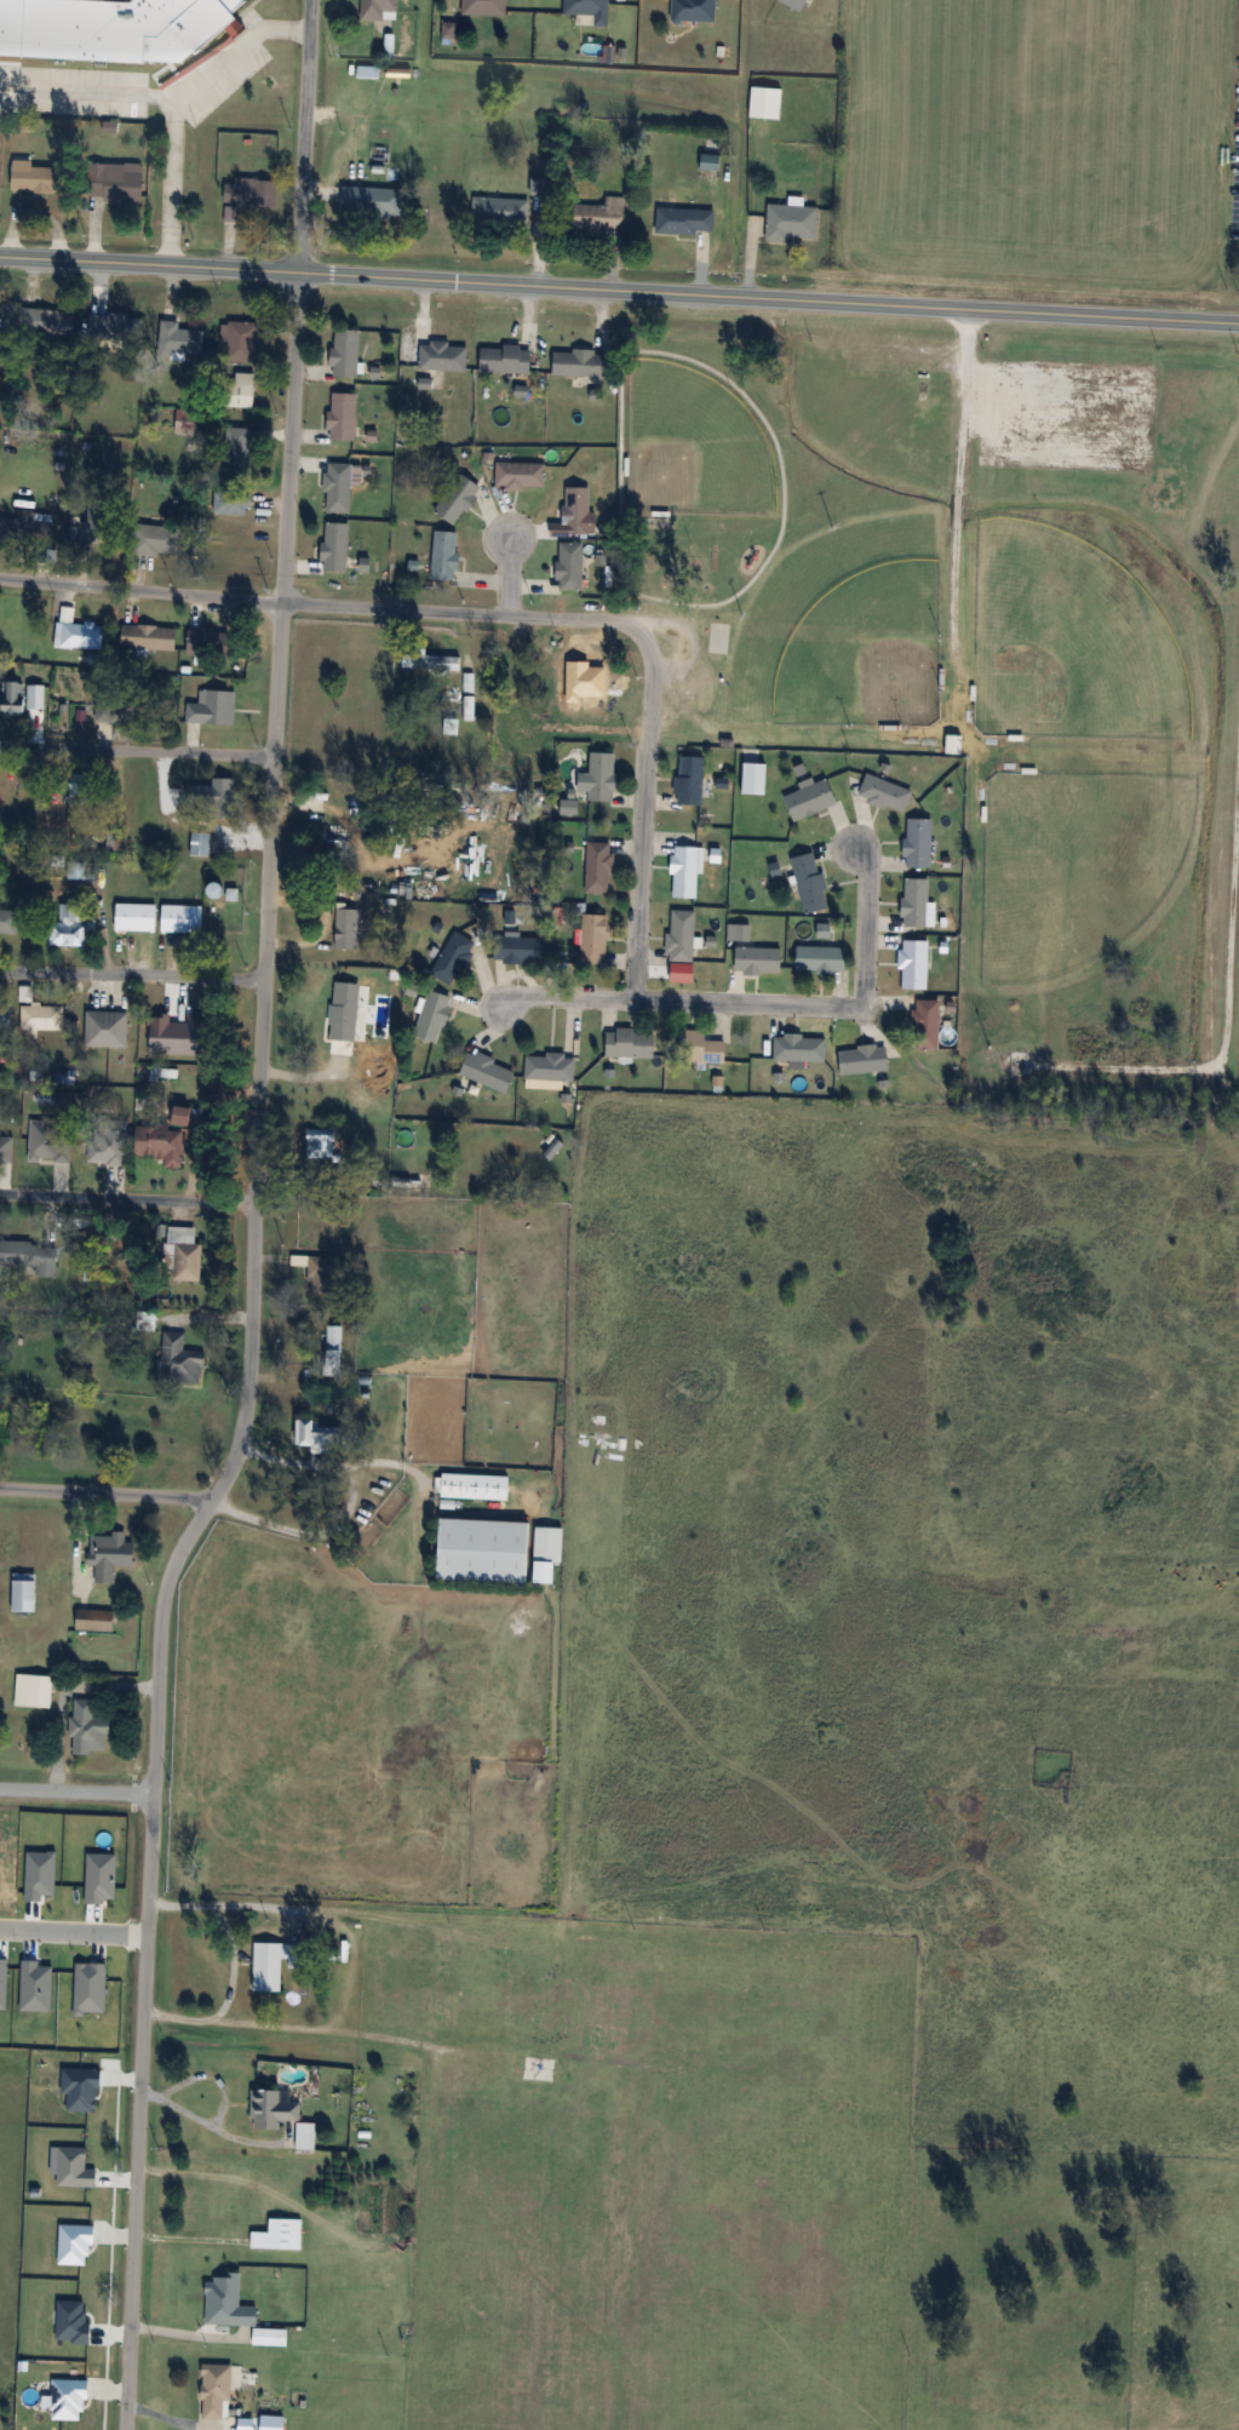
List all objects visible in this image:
building: (796, 4)
building: (486, 7)
building: (380, 10)
building: (590, 10)
building: (694, 10)
building: (124, 27)
road: (165, 97)
road: (305, 136)
building: (0, 177)
building: (35, 177)
building: (119, 182)
road: (171, 182)
building: (252, 191)
building: (372, 200)
building: (500, 211)
building: (601, 216)
building: (684, 219)
building: (793, 222)
road: (149, 265)
road: (635, 290)
road: (1103, 315)
building: (50, 322)
building: (116, 327)
building: (180, 339)
building: (243, 342)
building: (346, 353)
building: (444, 356)
building: (506, 359)
building: (579, 362)
road: (733, 384)
building: (242, 390)
building: (344, 417)
park: (692, 445)
building: (239, 449)
building: (521, 475)
building: (339, 487)
road: (962, 489)
building: (458, 498)
building: (231, 503)
building: (578, 510)
park: (791, 525)
building: (93, 527)
building: (27, 529)
building: (159, 540)
building: (335, 546)
building: (447, 555)
building: (572, 566)
road: (510, 575)
road: (322, 604)
park: (844, 629)
building: (82, 635)
building: (149, 637)
park: (717, 637)
building: (210, 643)
building: (431, 663)
building: (13, 698)
building: (116, 705)
building: (213, 707)
road: (137, 751)
building: (603, 775)
building: (755, 776)
building: (690, 780)
building: (82, 786)
building: (193, 787)
building: (887, 792)
building: (4, 793)
building: (813, 798)
road: (642, 814)
building: (343, 827)
building: (111, 839)
building: (919, 842)
building: (200, 843)
building: (600, 867)
building: (1023, 867)
building: (81, 869)
building: (687, 871)
building: (811, 882)
building: (223, 889)
road: (268, 890)
building: (917, 901)
building: (137, 916)
building: (183, 917)
building: (8, 919)
building: (71, 928)
building: (348, 928)
building: (682, 935)
building: (595, 938)
building: (520, 948)
building: (454, 957)
building: (822, 958)
building: (759, 959)
building: (914, 963)
road: (132, 974)
road: (563, 995)
building: (344, 1004)
road: (825, 1004)
building: (434, 1015)
building: (41, 1016)
building: (107, 1024)
building: (173, 1024)
building: (928, 1024)
building: (632, 1042)
building: (702, 1047)
building: (801, 1048)
road: (1229, 1048)
building: (865, 1059)
building: (551, 1066)
building: (489, 1071)
building: (164, 1144)
building: (322, 1144)
road: (127, 1198)
building: (184, 1254)
building: (29, 1256)
building: (319, 1273)
building: (333, 1337)
building: (463, 1347)
building: (179, 1360)
building: (317, 1435)
building: (472, 1486)
road: (105, 1492)
building: (484, 1549)
building: (110, 1555)
building: (546, 1571)
building: (24, 1592)
building: (97, 1620)
road: (160, 1643)
building: (34, 1690)
building: (90, 1727)
road: (76, 1792)
road: (230, 1927)
road: (73, 1931)
road: (145, 1949)
building: (276, 1964)
road: (288, 2025)
building: (478, 2070)
building: (274, 2108)
building: (279, 2235)
road: (132, 2268)
building: (228, 2302)
building: (216, 2391)

